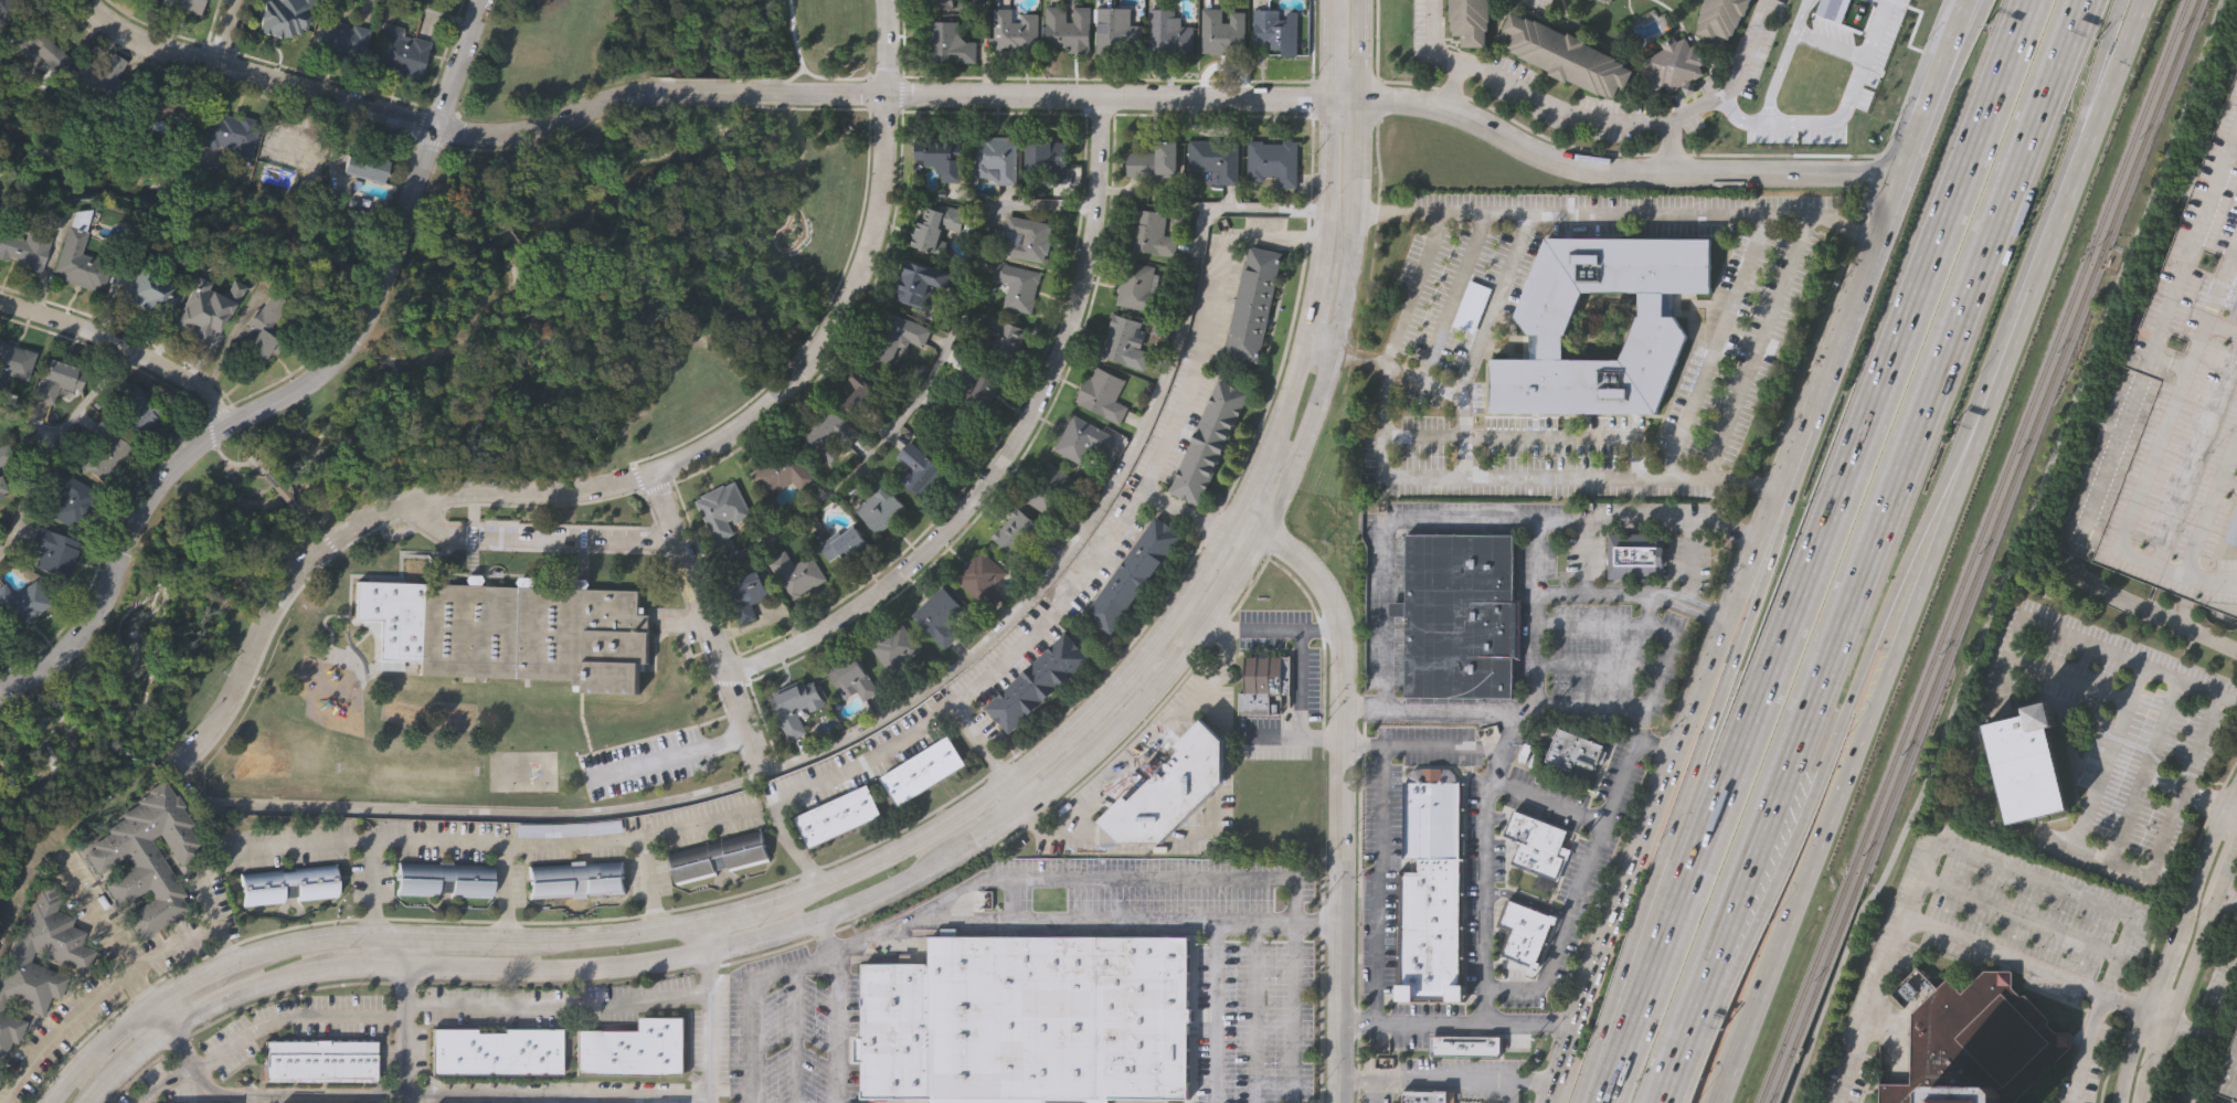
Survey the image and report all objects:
building: (1607, 1)
building: (4, 4)
building: (183, 4)
building: (940, 4)
road: (433, 12)
building: (284, 17)
building: (1720, 17)
road: (2113, 18)
building: (1469, 20)
building: (1071, 26)
building: (1017, 29)
building: (1279, 29)
road: (220, 30)
building: (1118, 30)
building: (1223, 31)
building: (1169, 32)
building: (337, 33)
building: (951, 40)
road: (793, 43)
road: (883, 46)
building: (36, 49)
building: (399, 52)
building: (1566, 55)
road: (1782, 60)
building: (1678, 63)
building: (110, 76)
road: (839, 77)
road: (718, 78)
road: (1737, 79)
road: (1452, 85)
road: (1933, 86)
road: (1946, 86)
road: (701, 92)
road: (819, 94)
road: (1522, 94)
road: (2093, 98)
road: (1398, 100)
road: (359, 105)
road: (706, 105)
building: (161, 107)
road: (1837, 118)
road: (434, 126)
building: (227, 132)
road: (1667, 147)
building: (285, 150)
building: (943, 151)
building: (996, 158)
building: (1050, 158)
building: (1217, 159)
building: (1153, 161)
building: (1274, 162)
building: (362, 165)
building: (931, 227)
road: (1844, 227)
building: (1151, 230)
building: (1028, 234)
road: (415, 237)
road: (2185, 247)
building: (26, 250)
building: (77, 255)
building: (920, 279)
road: (381, 282)
building: (1017, 283)
building: (1139, 285)
building: (147, 294)
road: (1455, 296)
building: (1255, 301)
road: (1496, 304)
building: (1472, 305)
road: (1848, 308)
building: (203, 311)
building: (1547, 322)
building: (262, 327)
building: (1004, 332)
building: (898, 333)
building: (1124, 340)
park: (490, 341)
road: (121, 346)
road: (1716, 348)
building: (13, 367)
building: (57, 380)
road: (1422, 380)
building: (980, 381)
road: (919, 391)
building: (1102, 391)
building: (861, 393)
road: (741, 403)
building: (137, 411)
road: (1731, 415)
building: (956, 425)
road: (29, 426)
building: (828, 431)
railway: (2018, 435)
building: (1082, 437)
building: (1208, 437)
railway: (2027, 437)
road: (1529, 441)
road: (53, 445)
road: (2152, 447)
road: (1005, 448)
building: (100, 450)
building: (4, 455)
road: (230, 464)
road: (400, 464)
building: (921, 467)
building: (784, 468)
road: (160, 478)
road: (276, 485)
road: (1741, 486)
building: (1051, 488)
building: (1, 490)
road: (582, 490)
building: (66, 499)
road: (1888, 501)
building: (2089, 505)
building: (882, 506)
building: (724, 507)
road: (306, 520)
road: (1547, 522)
road: (1777, 522)
building: (1024, 530)
building: (2234, 532)
road: (1387, 540)
road: (536, 541)
building: (845, 541)
road: (1920, 543)
building: (52, 551)
road: (1814, 551)
road: (1832, 551)
road: (1845, 551)
road: (1932, 552)
building: (1636, 553)
road: (2012, 554)
building: (796, 570)
building: (1133, 571)
building: (983, 576)
road: (1081, 584)
building: (746, 586)
road: (1636, 593)
building: (24, 603)
road: (1650, 611)
building: (941, 614)
building: (1460, 614)
road: (704, 624)
road: (1646, 626)
building: (0, 630)
building: (534, 630)
road: (1275, 633)
road: (2014, 634)
road: (1215, 638)
building: (897, 649)
road: (1599, 665)
building: (854, 677)
building: (1264, 679)
building: (1037, 680)
road: (1300, 686)
road: (1601, 704)
building: (795, 707)
road: (1844, 708)
road: (900, 709)
road: (1684, 733)
road: (1287, 736)
road: (1336, 742)
road: (2199, 742)
road: (1443, 745)
building: (1576, 747)
park: (272, 753)
road: (669, 757)
building: (2027, 765)
parking lot: (643, 766)
building: (924, 767)
park: (522, 772)
road: (1006, 784)
building: (1173, 789)
road: (1685, 793)
road: (1549, 799)
road: (2090, 803)
road: (2228, 809)
building: (840, 814)
road: (939, 827)
road: (980, 832)
road: (1111, 836)
building: (1536, 842)
road: (489, 845)
building: (147, 855)
building: (719, 855)
road: (1379, 859)
building: (446, 876)
building: (576, 877)
building: (288, 879)
road: (2033, 879)
road: (1253, 881)
road: (649, 883)
road: (1758, 885)
road: (370, 888)
road: (506, 892)
building: (1433, 893)
road: (2228, 899)
parking lot: (2024, 900)
road: (2019, 916)
road: (1179, 924)
road: (1931, 925)
road: (892, 926)
road: (2162, 930)
building: (1522, 932)
road: (106, 933)
road: (707, 936)
road: (2170, 936)
road: (1485, 941)
road: (221, 946)
road: (410, 947)
building: (30, 974)
road: (2192, 975)
road: (118, 982)
railway: (1806, 987)
railway: (1816, 989)
road: (2198, 999)
road: (754, 1001)
road: (2223, 1006)
road: (560, 1011)
road: (160, 1014)
road: (1218, 1014)
road: (1257, 1014)
road: (2154, 1017)
building: (1058, 1018)
road: (1409, 1021)
road: (1513, 1024)
road: (709, 1027)
building: (897, 1028)
road: (834, 1029)
road: (263, 1031)
road: (407, 1031)
road: (2188, 1031)
road: (794, 1036)
building: (1976, 1042)
road: (1605, 1044)
building: (1465, 1046)
road: (2085, 1047)
building: (634, 1048)
building: (497, 1049)
road: (1675, 1053)
building: (320, 1058)
road: (1563, 1063)
road: (2199, 1071)
building: (2228, 1073)
parking garage: (2228, 1073)
building: (1, 1074)
road: (1444, 1078)
road: (204, 1081)
road: (1374, 1090)
building: (1425, 1094)
road: (330, 1097)
building: (1961, 1099)
road: (558, 1100)
road: (1836, 1100)

